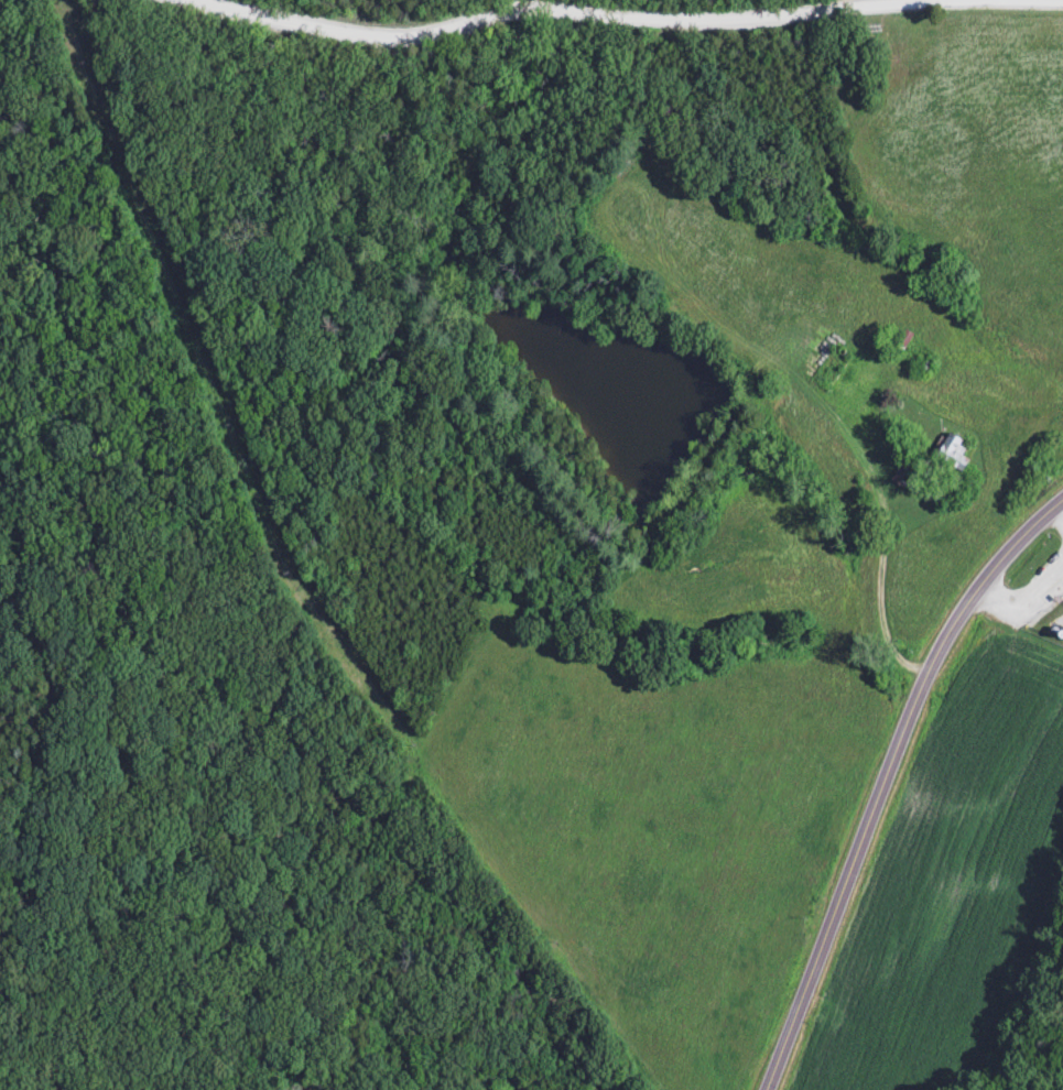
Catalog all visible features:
road: (625, 18)
building: (782, 342)
building: (828, 373)
building: (950, 453)
road: (877, 531)
road: (888, 778)

